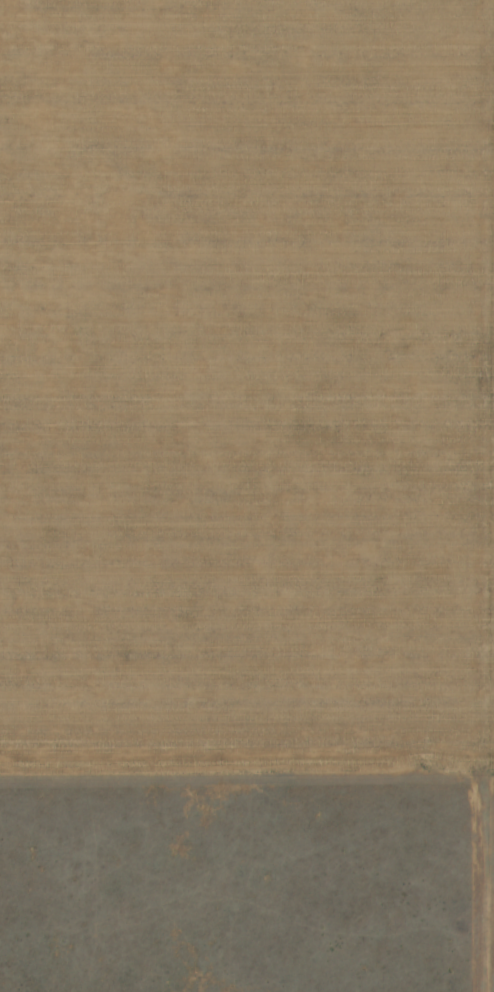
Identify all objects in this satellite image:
road: (247, 814)

